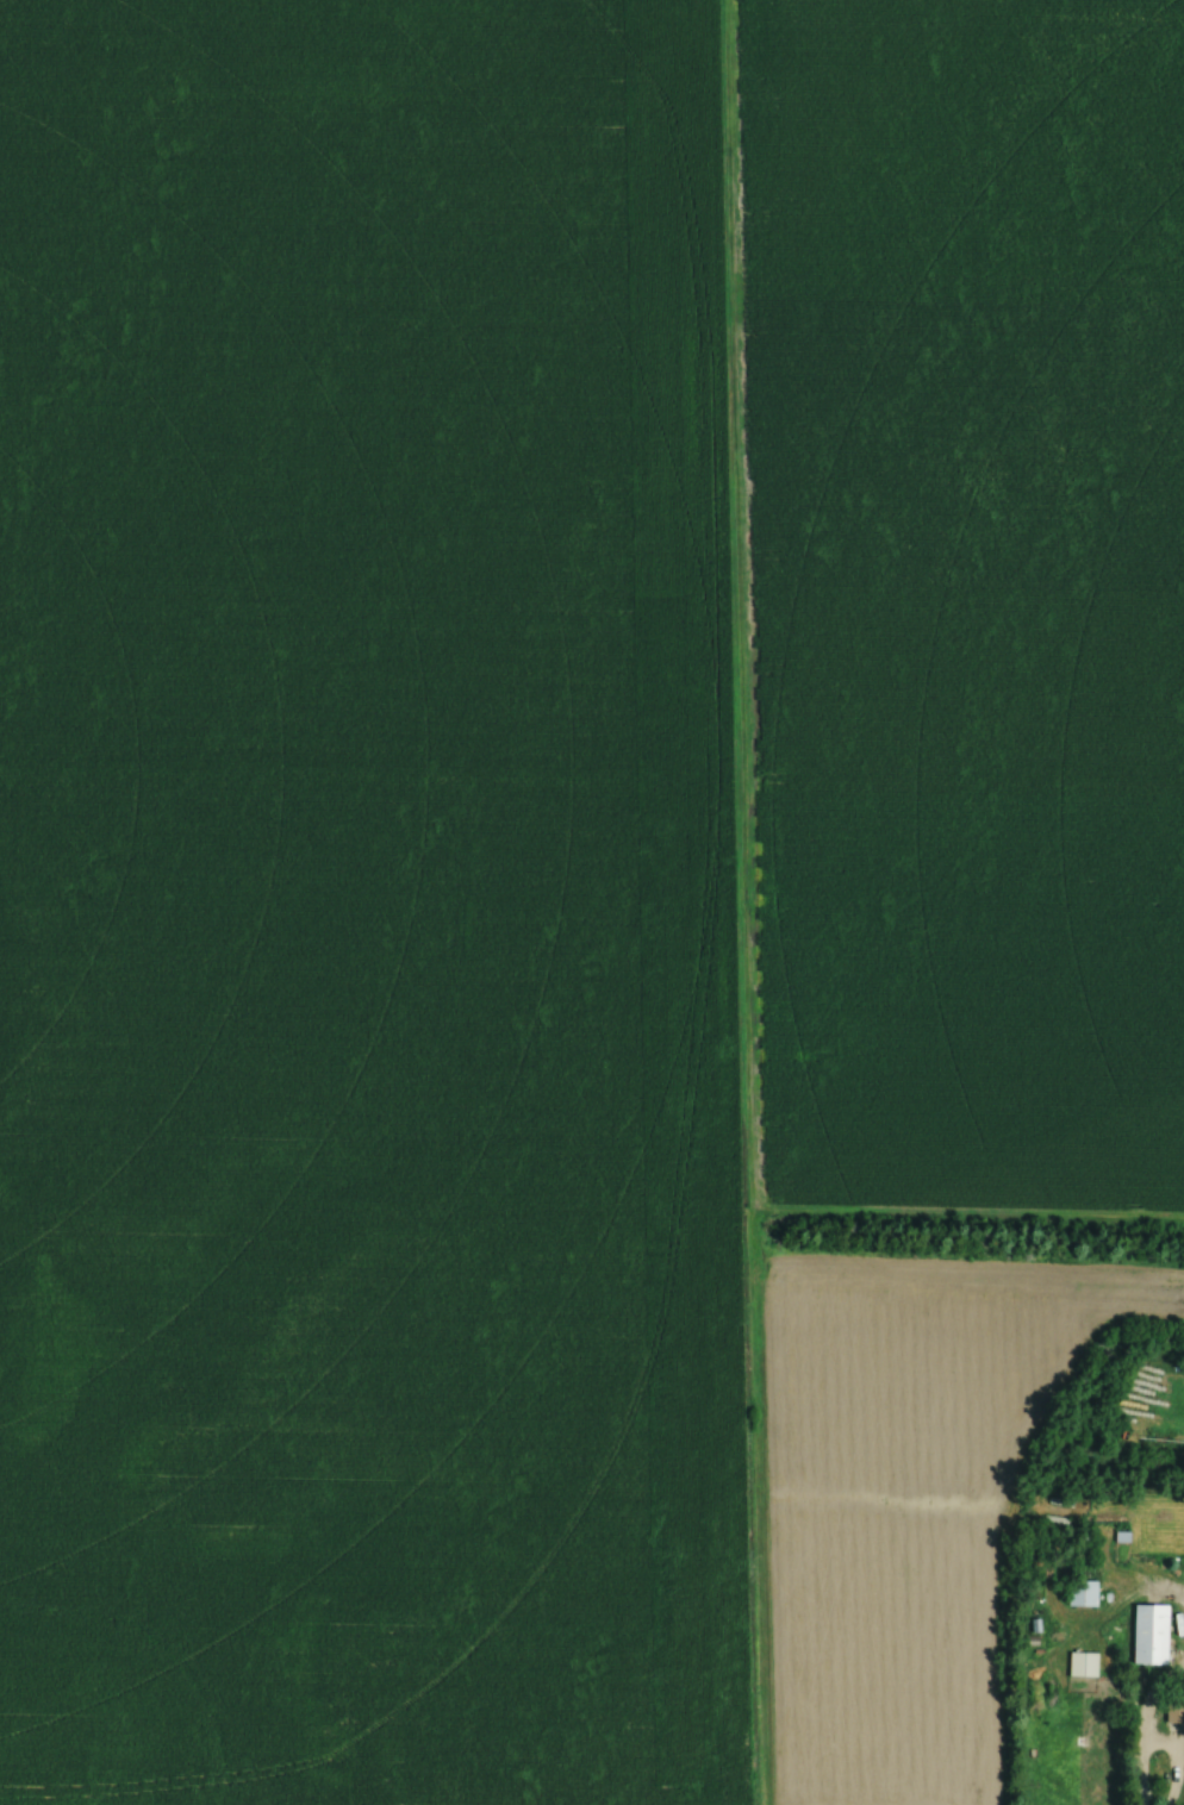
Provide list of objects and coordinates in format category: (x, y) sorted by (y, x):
building: (1079, 1594)
building: (1146, 1635)
building: (1173, 1710)

